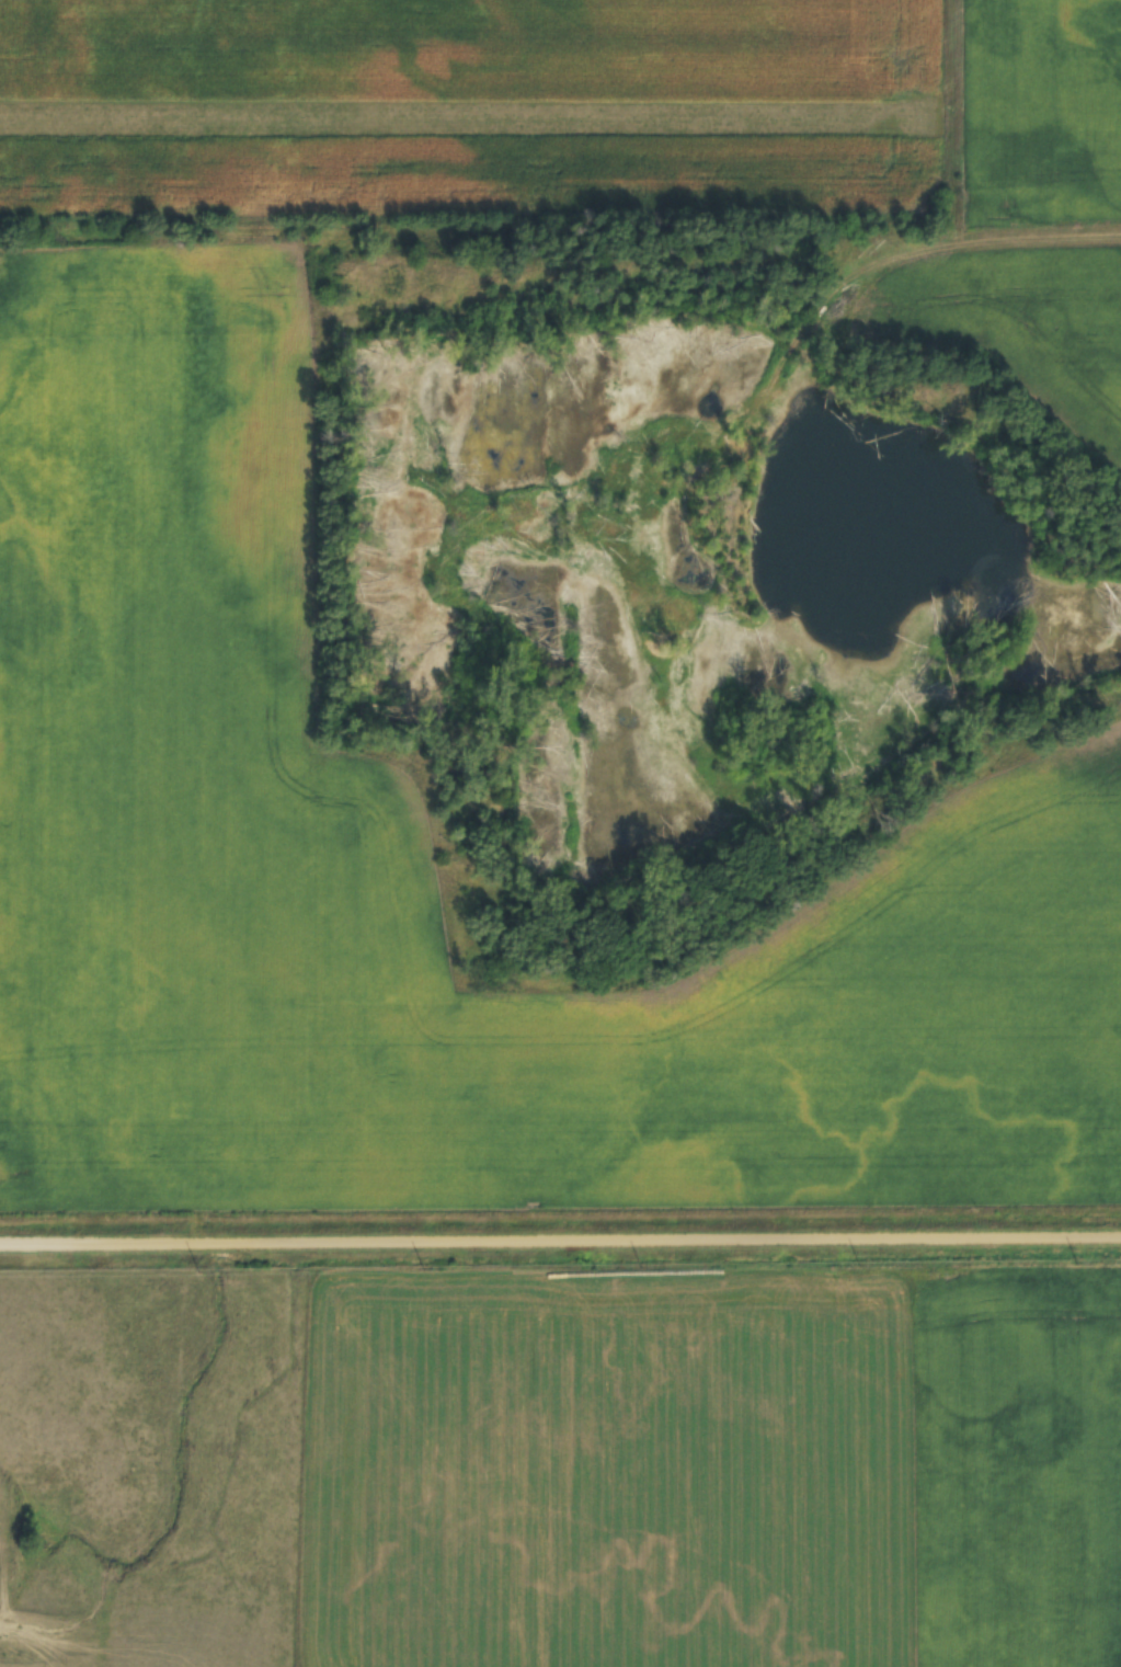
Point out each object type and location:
airport: (480, 112)
airport runway: (471, 116)
road: (560, 1238)

